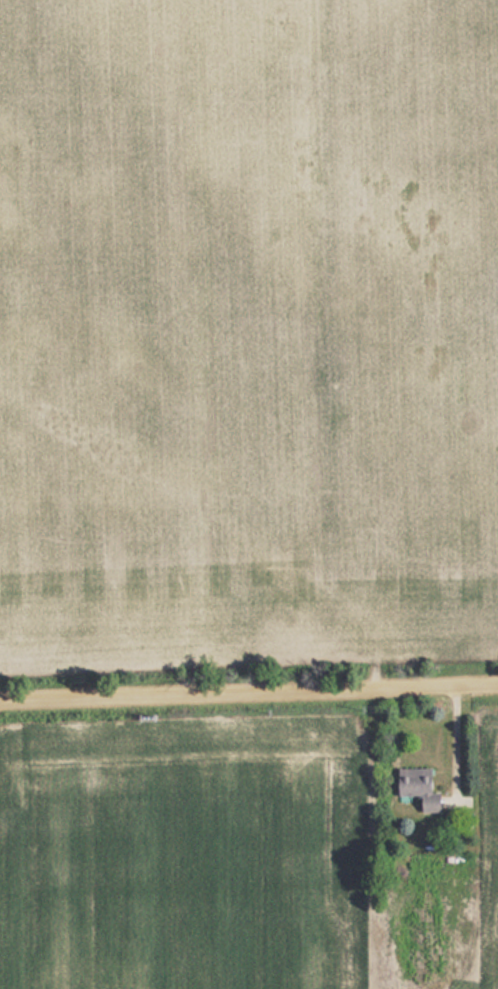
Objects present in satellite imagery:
road: (249, 684)
building: (416, 787)

